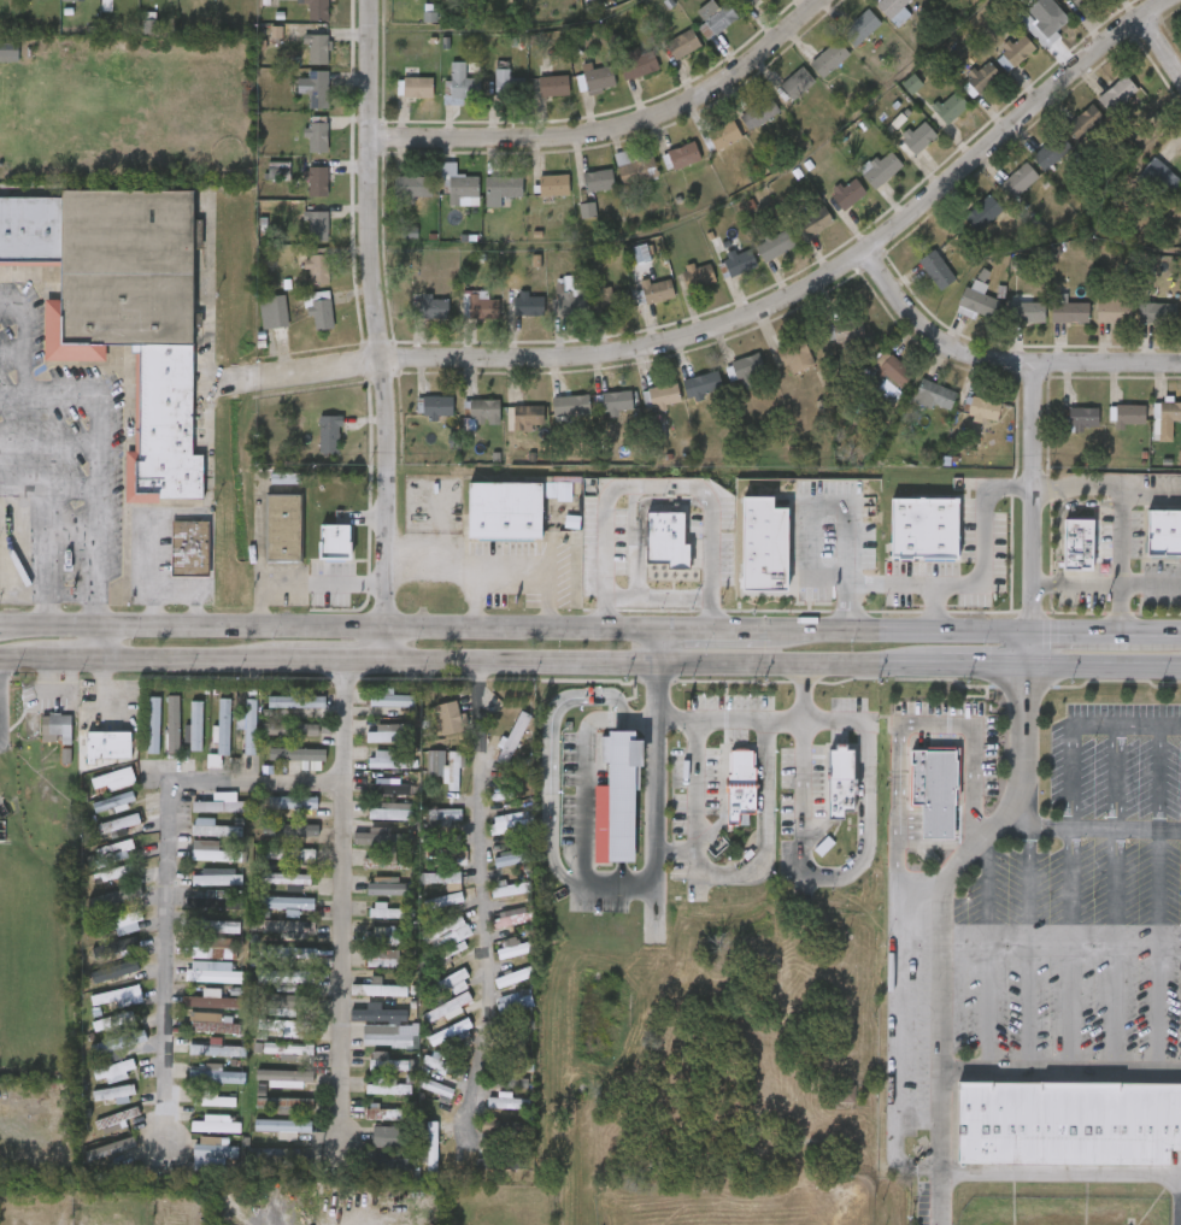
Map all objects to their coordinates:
building: (10, 0)
building: (72, 0)
building: (166, 1)
building: (750, 1)
building: (1082, 2)
building: (892, 7)
building: (51, 10)
building: (318, 10)
building: (153, 13)
building: (715, 16)
building: (1044, 22)
building: (860, 26)
building: (682, 43)
building: (318, 48)
building: (1017, 48)
road: (1161, 49)
building: (10, 53)
building: (829, 58)
building: (636, 63)
building: (982, 76)
building: (599, 78)
building: (799, 82)
building: (503, 83)
building: (458, 84)
building: (553, 84)
building: (912, 84)
building: (417, 87)
building: (316, 88)
building: (1117, 94)
building: (950, 106)
building: (759, 112)
building: (1087, 119)
road: (616, 128)
building: (724, 134)
building: (317, 136)
building: (916, 139)
building: (1051, 151)
building: (683, 155)
building: (635, 167)
building: (1157, 169)
building: (882, 170)
building: (598, 179)
building: (317, 181)
building: (1018, 181)
building: (553, 184)
building: (415, 185)
building: (460, 187)
building: (501, 188)
building: (848, 193)
building: (588, 211)
building: (983, 213)
building: (816, 220)
building: (316, 225)
building: (775, 243)
building: (740, 259)
building: (316, 267)
building: (936, 269)
building: (700, 275)
building: (657, 289)
building: (617, 300)
building: (574, 301)
building: (529, 304)
building: (434, 305)
building: (481, 305)
building: (973, 305)
building: (321, 310)
road: (765, 310)
building: (122, 311)
building: (1028, 311)
building: (1070, 311)
building: (1114, 311)
building: (1157, 311)
building: (275, 314)
building: (846, 330)
road: (380, 340)
building: (795, 354)
road: (999, 359)
building: (746, 366)
building: (894, 370)
building: (703, 383)
building: (888, 390)
road: (57, 394)
building: (935, 394)
building: (664, 395)
building: (617, 401)
road: (17, 402)
building: (435, 406)
building: (983, 408)
building: (571, 410)
building: (484, 411)
building: (527, 414)
building: (1127, 414)
building: (1082, 417)
building: (1165, 418)
building: (330, 434)
building: (286, 478)
road: (657, 487)
road: (208, 491)
building: (560, 493)
road: (1152, 493)
road: (1034, 496)
road: (805, 500)
road: (98, 508)
building: (503, 510)
road: (1123, 517)
building: (282, 526)
building: (923, 526)
building: (1163, 531)
building: (665, 537)
building: (335, 542)
building: (1079, 543)
building: (189, 547)
building: (765, 548)
road: (43, 558)
road: (511, 566)
road: (982, 582)
road: (1079, 582)
road: (1152, 583)
road: (174, 585)
road: (659, 601)
road: (846, 605)
road: (933, 606)
road: (22, 624)
road: (351, 626)
road: (717, 629)
road: (904, 630)
road: (1093, 631)
road: (1167, 632)
road: (96, 642)
road: (659, 646)
road: (1034, 648)
road: (23, 659)
road: (612, 662)
road: (801, 690)
building: (390, 699)
building: (295, 702)
road: (642, 715)
building: (450, 718)
road: (342, 722)
building: (174, 724)
road: (1124, 724)
building: (154, 725)
building: (248, 726)
building: (195, 728)
building: (223, 728)
building: (57, 729)
building: (290, 730)
building: (390, 734)
building: (512, 740)
building: (108, 746)
building: (299, 756)
building: (215, 761)
building: (388, 761)
building: (445, 767)
road: (656, 776)
road: (1069, 776)
road: (1115, 777)
road: (1159, 777)
building: (114, 779)
road: (270, 783)
building: (836, 783)
road: (694, 784)
road: (583, 785)
building: (389, 788)
building: (741, 788)
building: (935, 788)
road: (552, 789)
building: (621, 796)
road: (764, 799)
building: (293, 802)
building: (113, 803)
building: (222, 805)
building: (393, 812)
building: (110, 815)
building: (443, 817)
building: (119, 824)
building: (510, 824)
building: (213, 829)
road: (1091, 829)
building: (293, 830)
building: (382, 840)
road: (938, 843)
road: (862, 849)
building: (114, 853)
building: (213, 853)
building: (290, 854)
building: (446, 854)
building: (511, 859)
road: (895, 867)
building: (114, 874)
building: (218, 878)
building: (442, 878)
building: (287, 881)
road: (921, 881)
building: (389, 888)
building: (512, 889)
building: (116, 897)
road: (483, 899)
building: (215, 901)
building: (443, 901)
building: (284, 905)
building: (390, 912)
building: (511, 918)
building: (121, 924)
building: (218, 927)
building: (284, 927)
road: (941, 931)
building: (386, 937)
building: (448, 938)
road: (1060, 940)
road: (1028, 947)
building: (513, 948)
building: (217, 949)
road: (1068, 950)
road: (1114, 950)
road: (1157, 950)
building: (299, 956)
road: (988, 956)
building: (386, 959)
building: (116, 972)
building: (213, 973)
building: (513, 978)
building: (284, 979)
building: (450, 984)
building: (380, 990)
building: (119, 997)
building: (212, 1001)
building: (515, 1002)
building: (284, 1005)
building: (448, 1008)
building: (378, 1014)
building: (113, 1021)
building: (213, 1024)
building: (287, 1027)
building: (451, 1033)
building: (388, 1041)
building: (119, 1043)
building: (217, 1049)
building: (288, 1050)
building: (387, 1062)
building: (114, 1072)
road: (1059, 1072)
building: (215, 1076)
building: (286, 1078)
building: (388, 1088)
building: (440, 1091)
building: (114, 1095)
building: (212, 1101)
building: (507, 1102)
building: (284, 1103)
building: (383, 1114)
building: (1068, 1120)
building: (116, 1121)
building: (216, 1125)
building: (283, 1126)
building: (505, 1126)
building: (390, 1137)
building: (433, 1147)
building: (114, 1149)
building: (213, 1154)
building: (274, 1156)
building: (501, 1162)
road: (1059, 1170)

